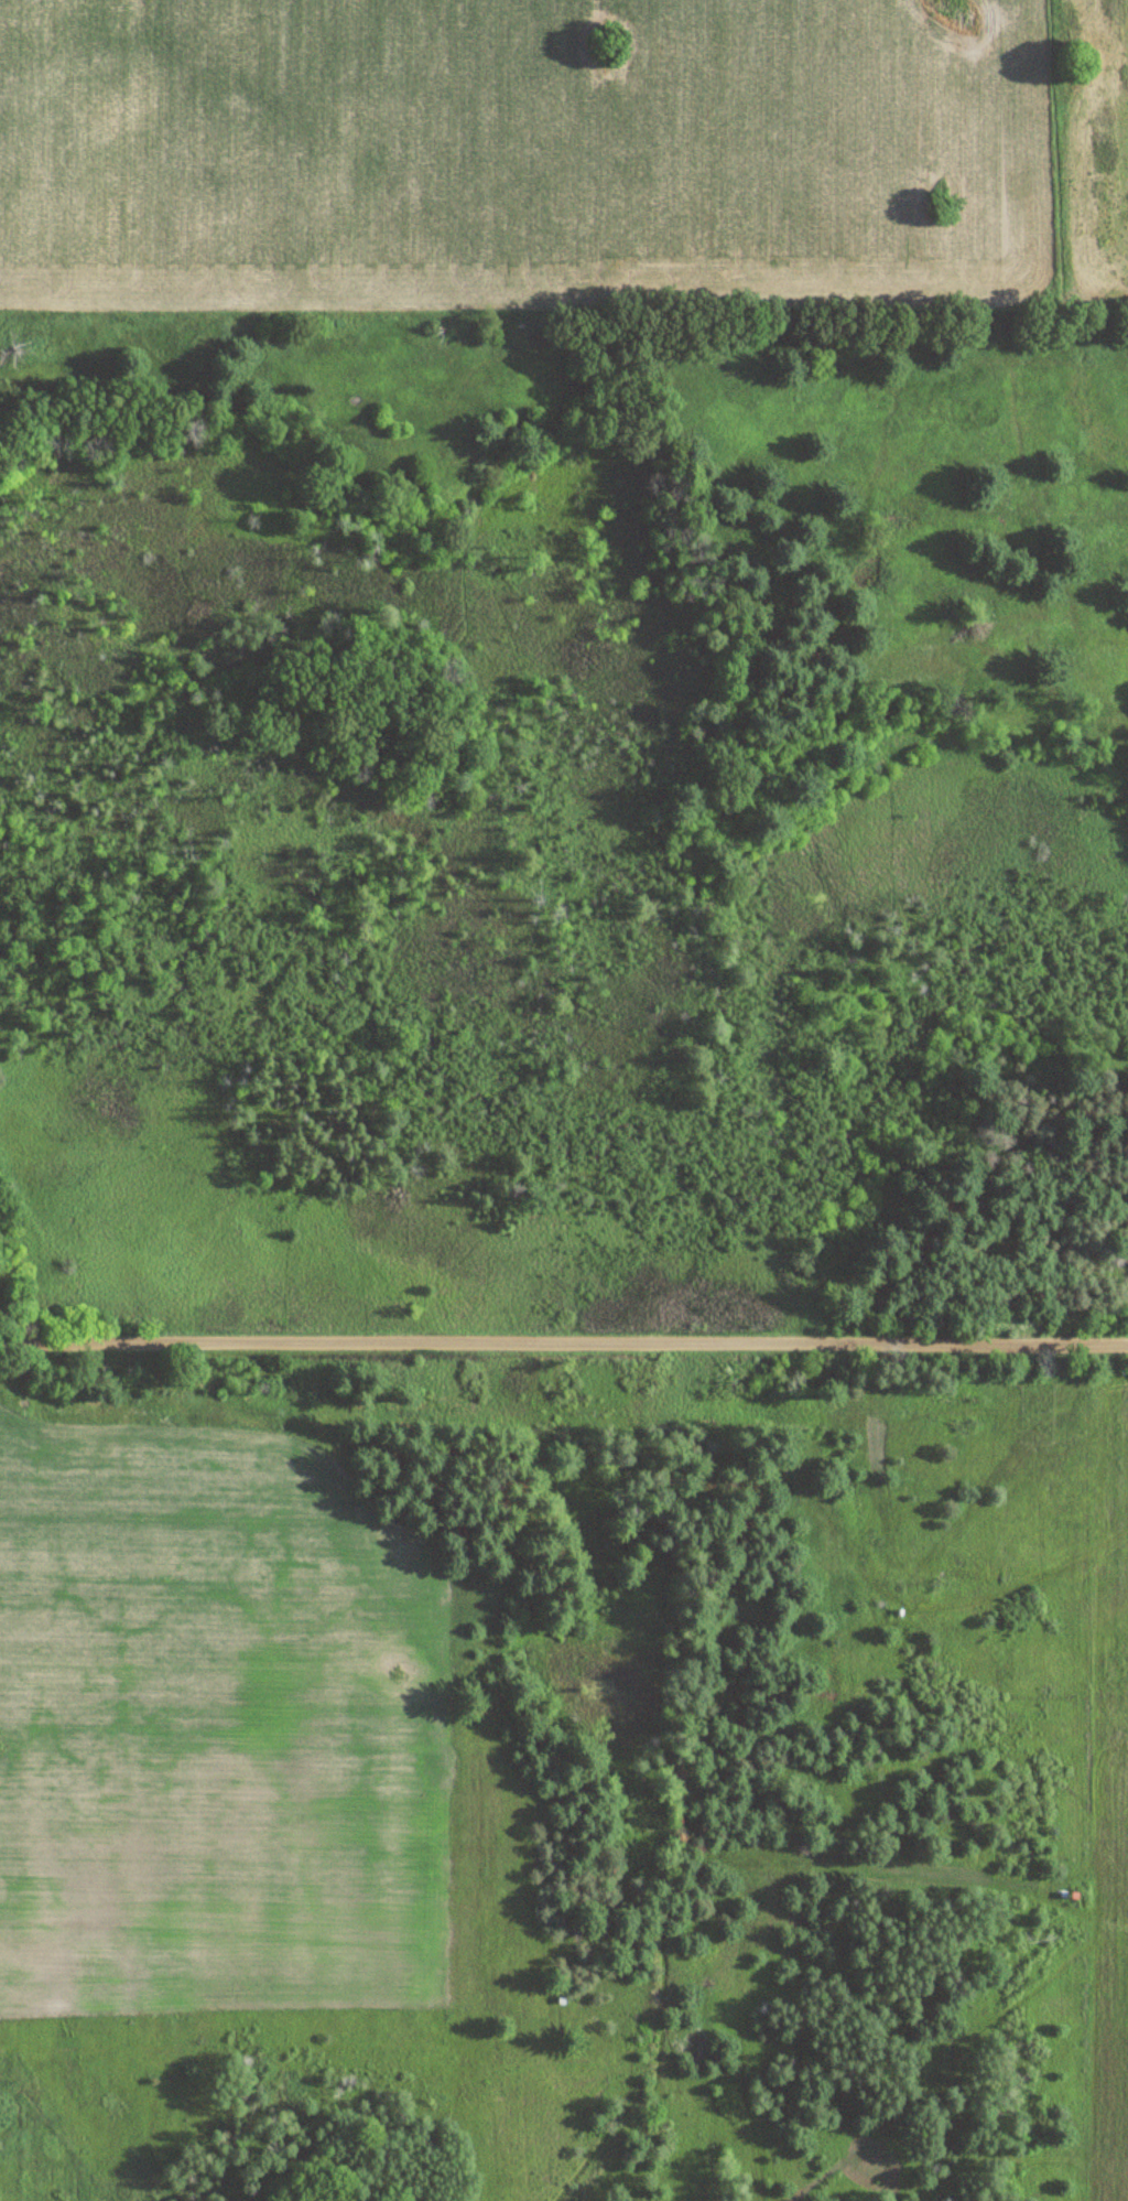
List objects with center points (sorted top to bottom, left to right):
road: (564, 1341)

